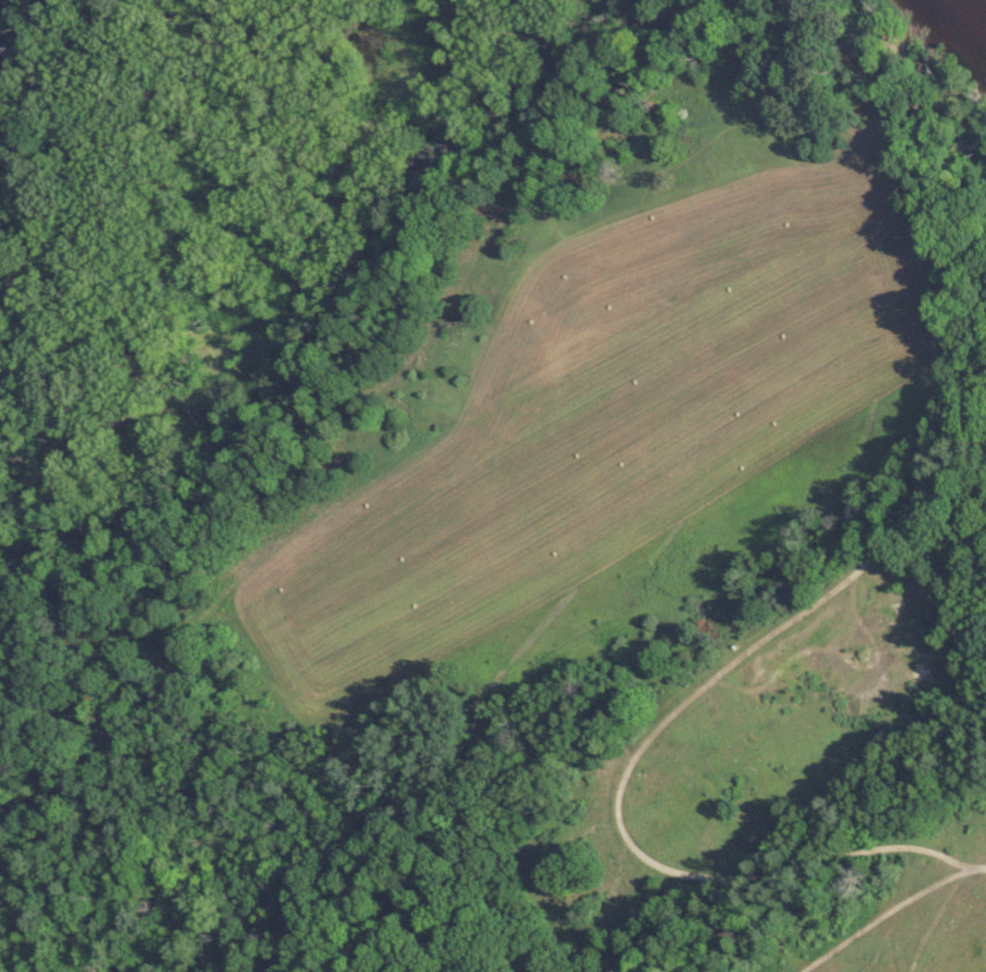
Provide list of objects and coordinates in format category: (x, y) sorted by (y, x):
road: (677, 675)

